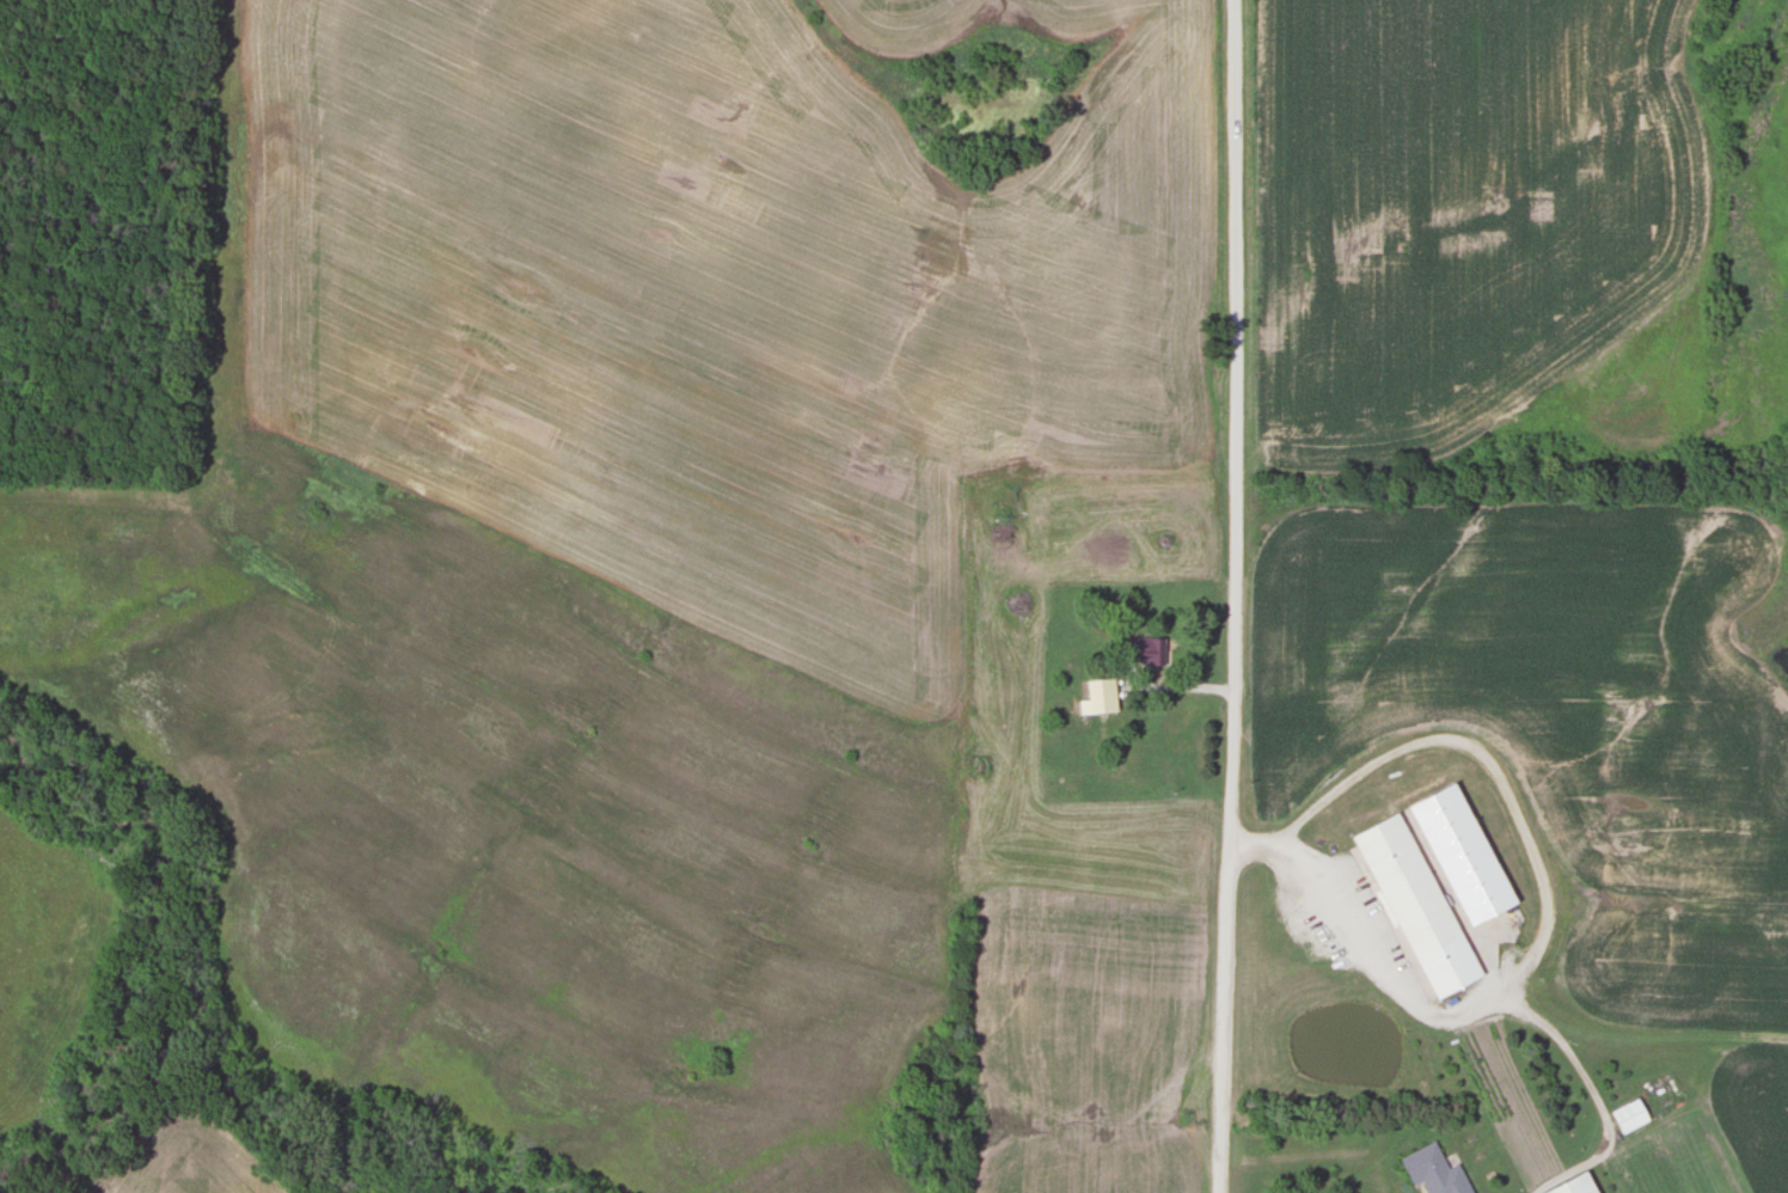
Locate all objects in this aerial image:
road: (1236, 596)
building: (1145, 649)
building: (1100, 695)
building: (1435, 807)
building: (1415, 905)
building: (1628, 1115)
building: (1432, 1171)
building: (1574, 1185)

